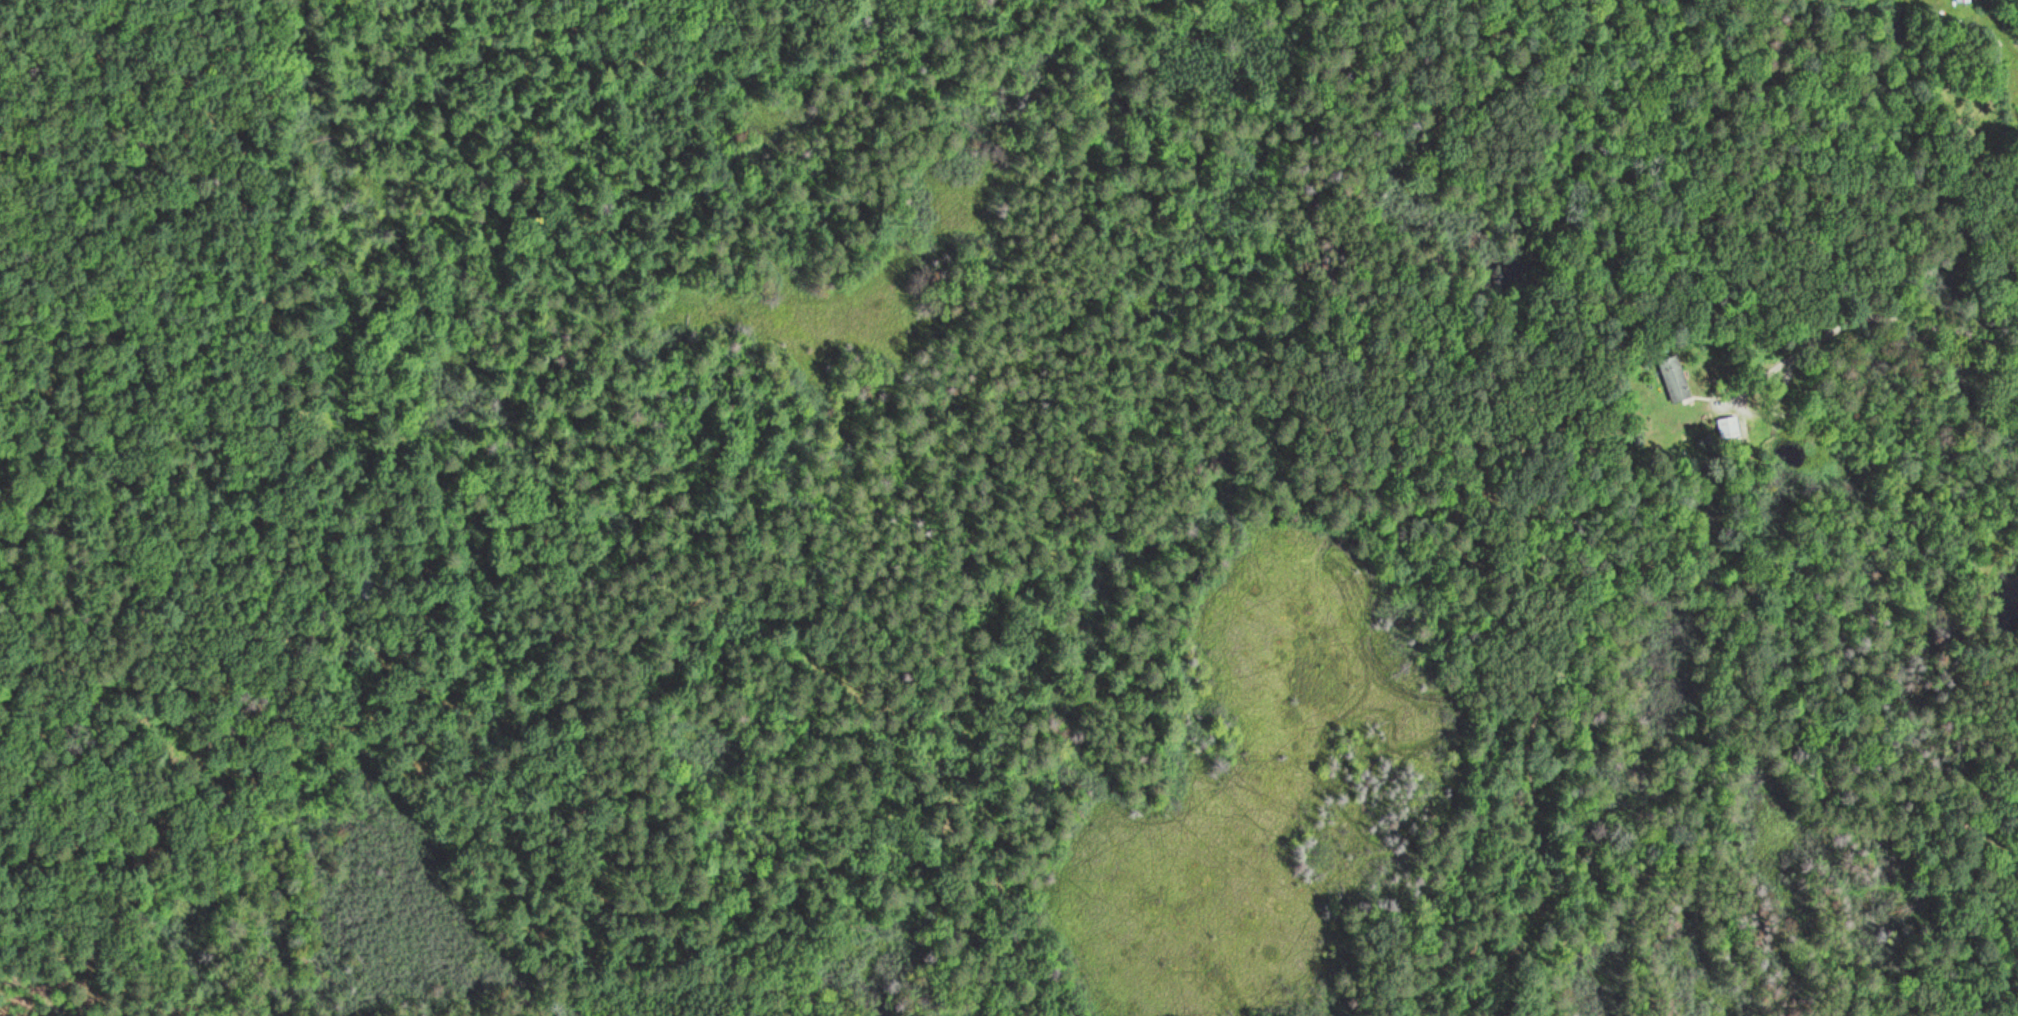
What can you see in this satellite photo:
road: (1946, 331)

